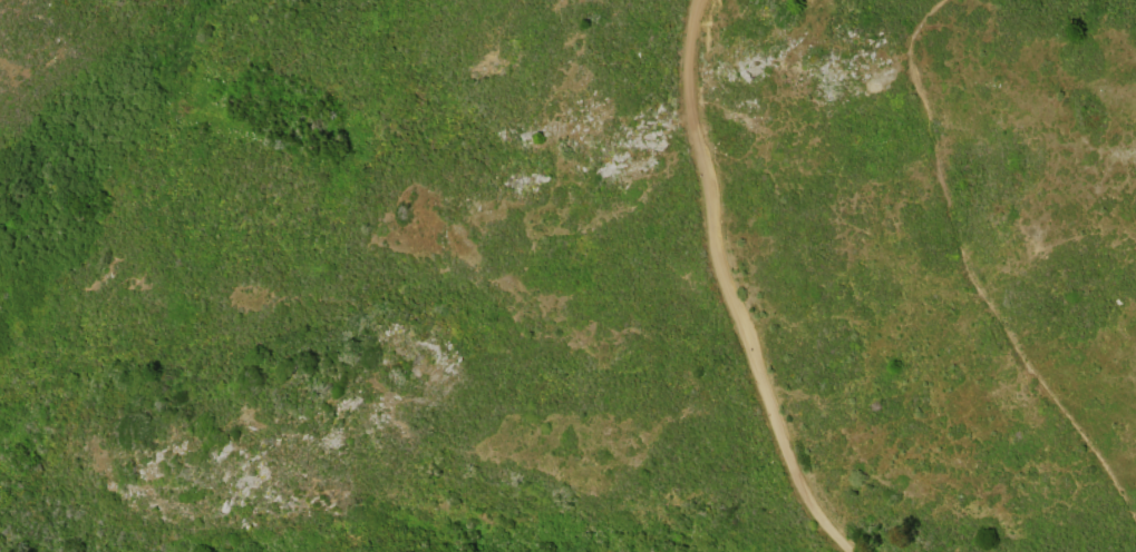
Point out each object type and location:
road: (725, 287)

